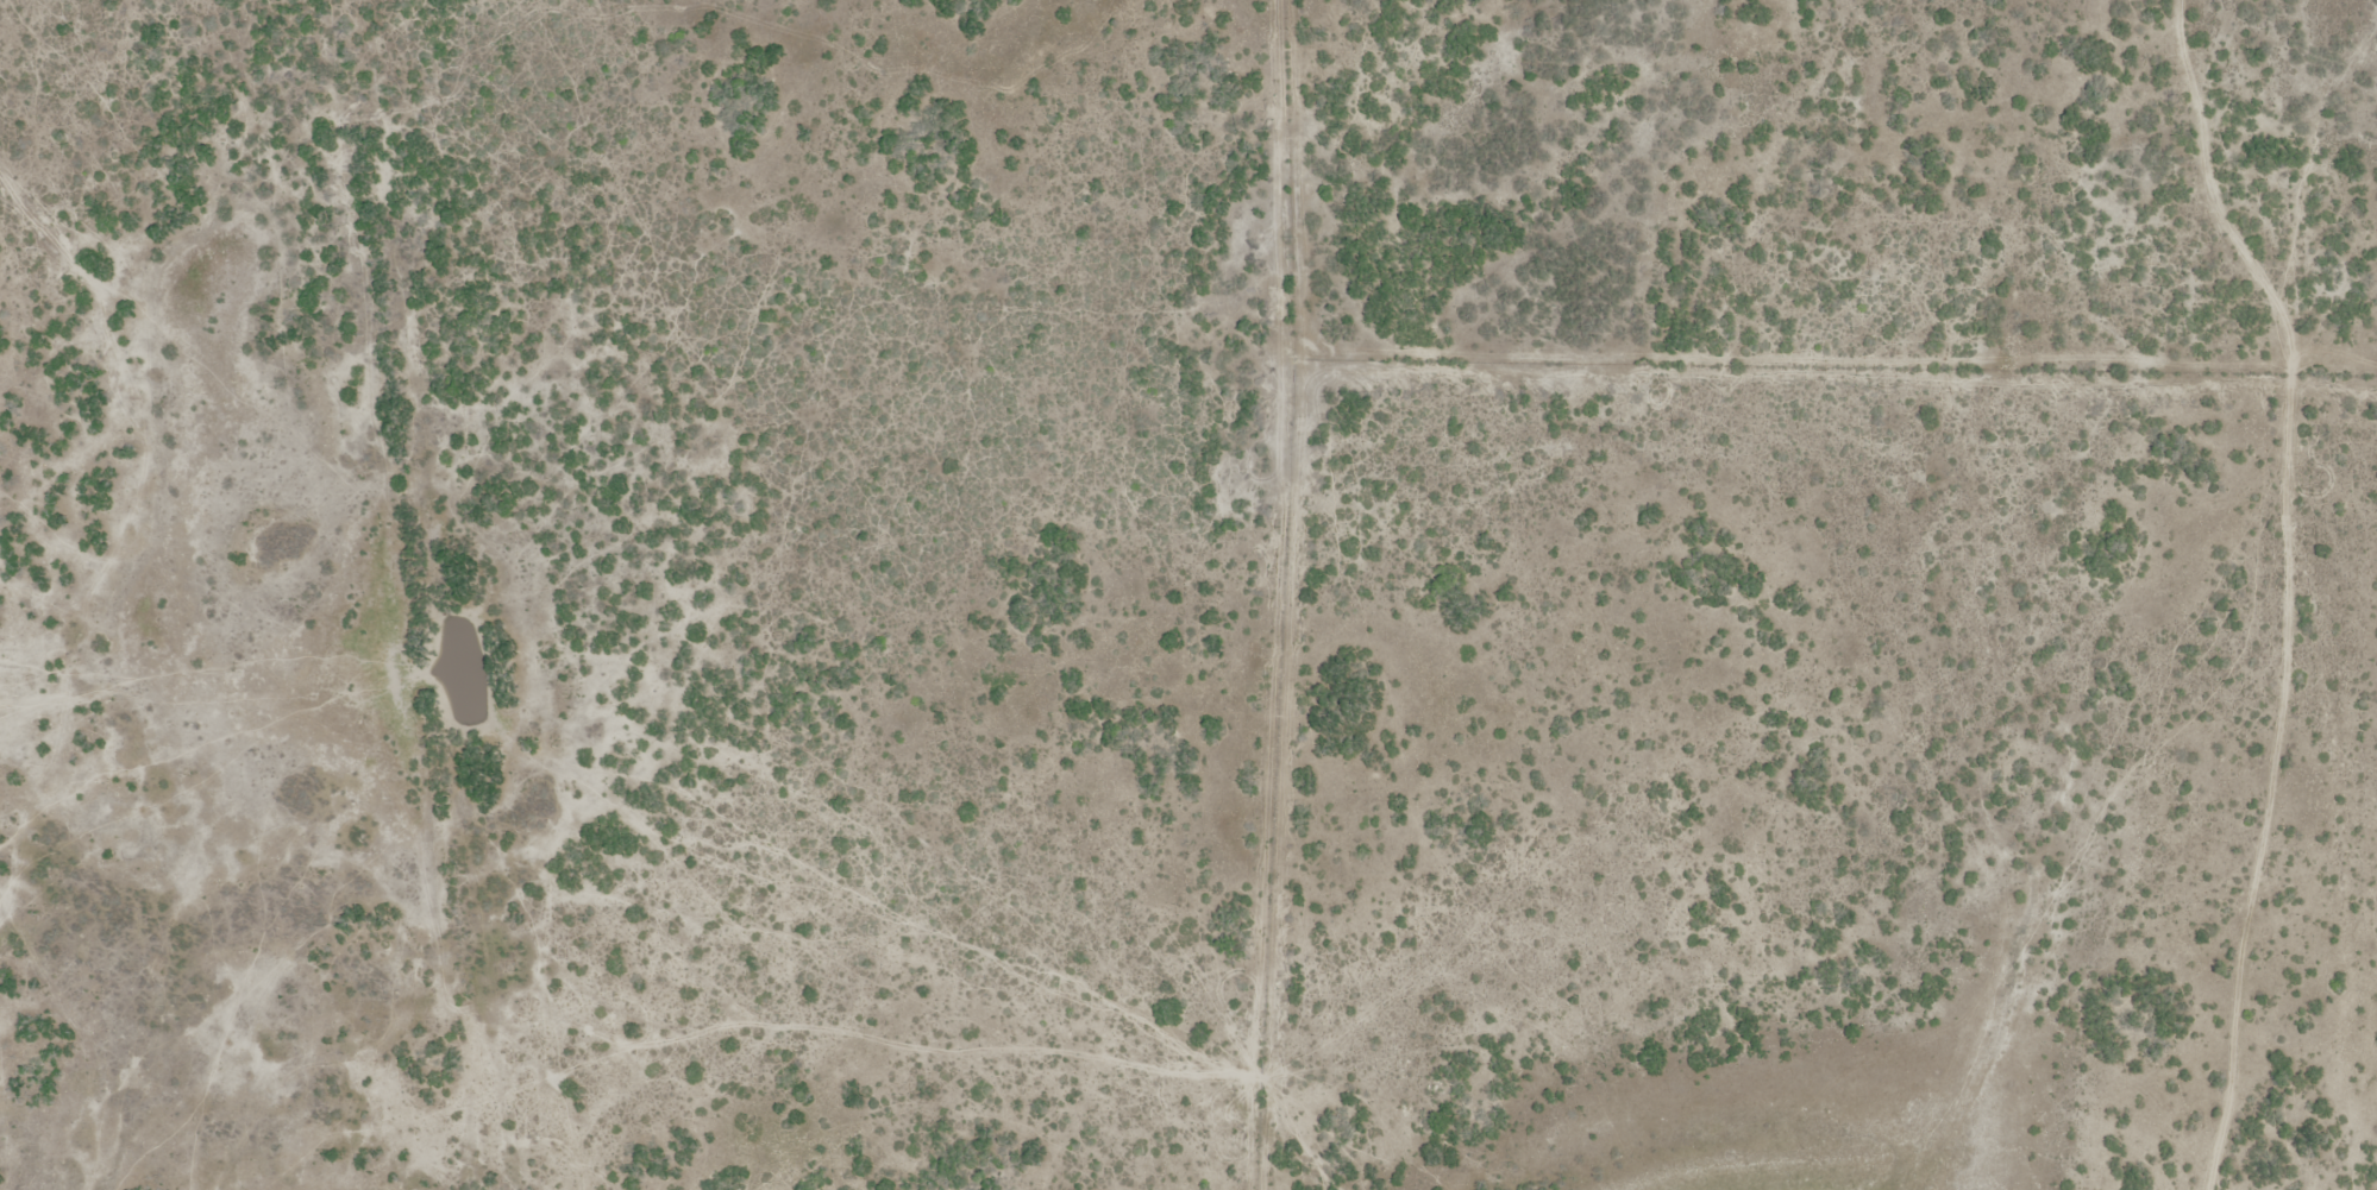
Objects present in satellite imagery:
road: (2298, 334)
road: (2344, 1016)

